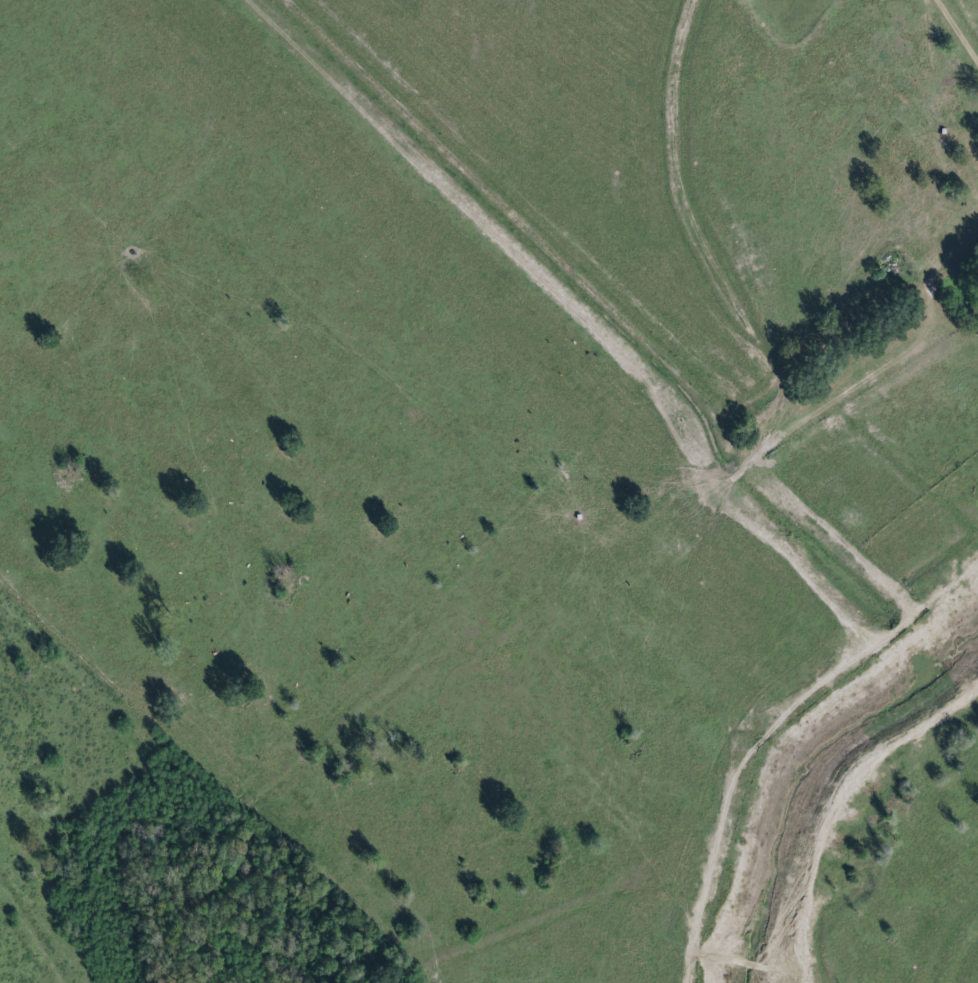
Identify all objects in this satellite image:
road: (962, 24)
road: (33, 930)

